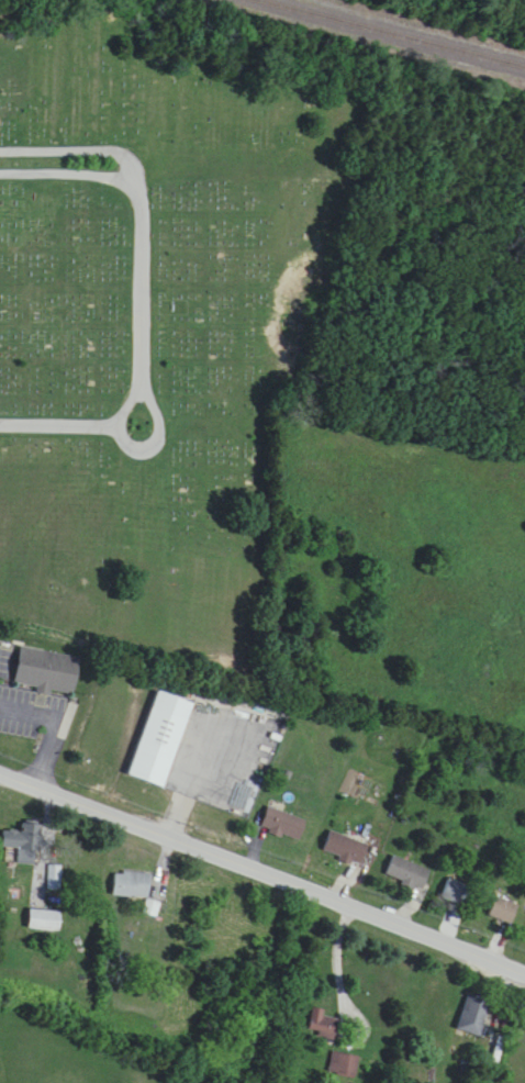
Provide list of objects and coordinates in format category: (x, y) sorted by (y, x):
railway: (421, 25)
road: (142, 283)
park: (157, 320)
road: (158, 428)
building: (48, 670)
road: (51, 725)
building: (161, 739)
road: (193, 771)
building: (283, 825)
building: (24, 844)
building: (346, 849)
road: (262, 870)
building: (407, 874)
building: (131, 885)
building: (456, 893)
building: (504, 912)
building: (45, 922)
road: (342, 959)
building: (474, 1016)
building: (323, 1025)
building: (344, 1065)

